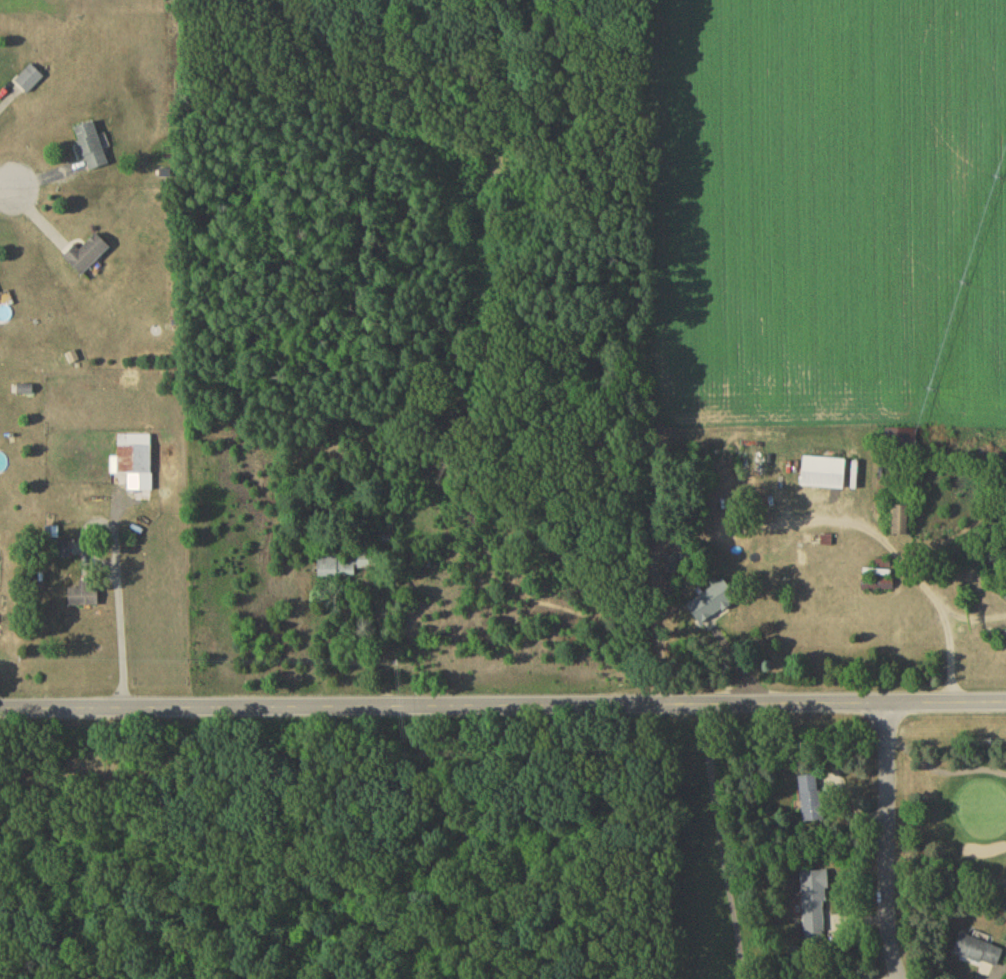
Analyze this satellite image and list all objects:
building: (30, 82)
building: (92, 148)
road: (6, 193)
building: (89, 256)
building: (902, 443)
building: (135, 457)
building: (825, 475)
building: (901, 522)
building: (765, 530)
road: (901, 554)
building: (344, 567)
road: (119, 590)
building: (85, 598)
building: (715, 603)
road: (979, 618)
road: (503, 705)
road: (942, 773)
building: (812, 800)
road: (889, 842)
park: (841, 850)
building: (816, 909)
building: (980, 954)

